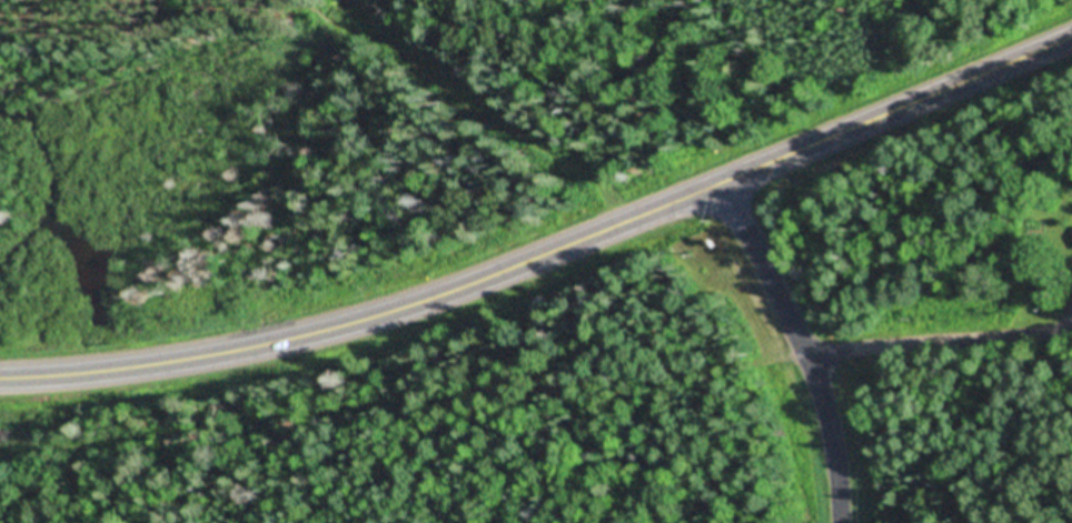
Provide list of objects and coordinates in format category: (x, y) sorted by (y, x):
road: (61, 8)
road: (547, 248)
road: (939, 341)
road: (801, 343)

